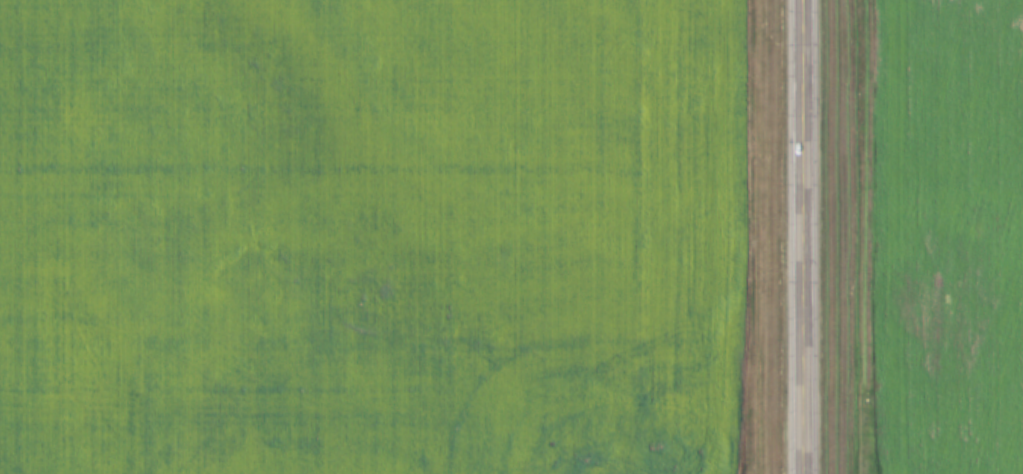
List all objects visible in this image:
road: (802, 237)

